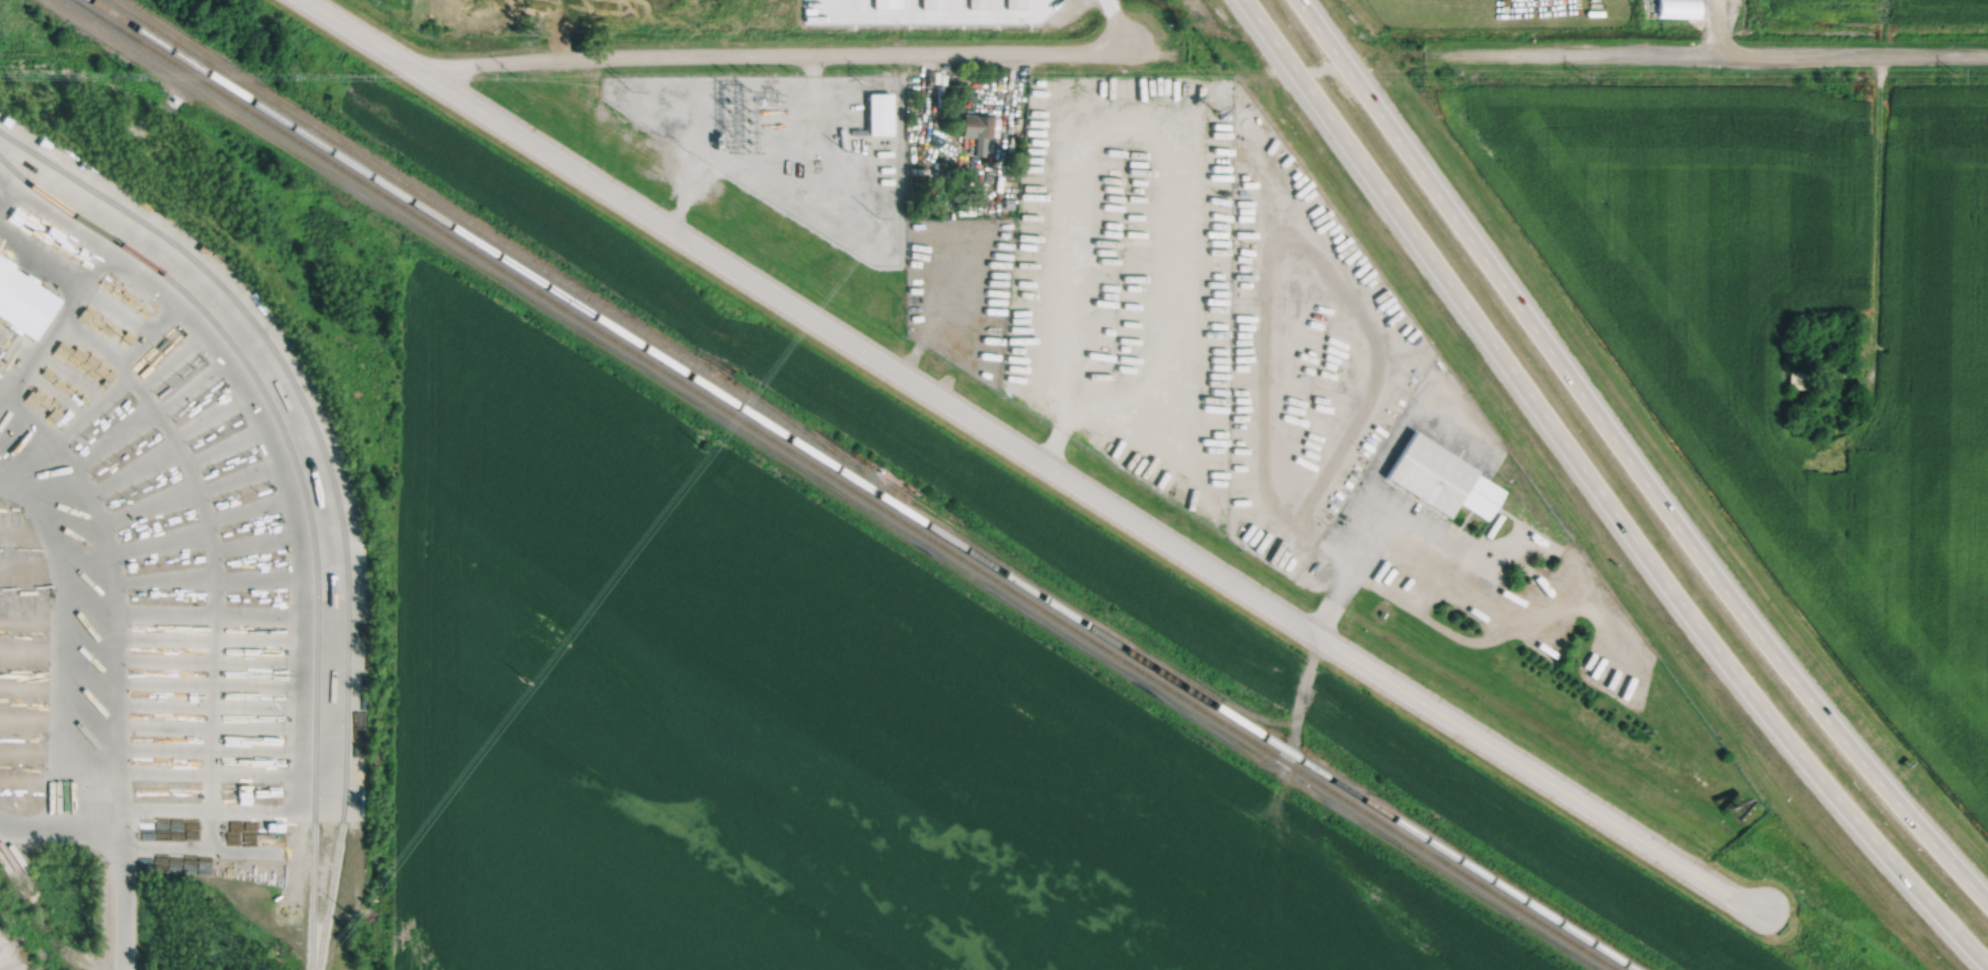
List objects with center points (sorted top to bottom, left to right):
building: (885, 3)
crop: (398, 4)
building: (933, 4)
building: (977, 4)
building: (1016, 4)
road: (1319, 29)
road: (1275, 40)
road: (1717, 53)
road: (774, 54)
road: (1322, 70)
power tower: (861, 75)
power tower: (1210, 77)
power tower: (1955, 77)
power tower: (1582, 78)
power tower: (631, 90)
building: (879, 111)
building: (978, 129)
power substation: (792, 146)
power tower: (846, 151)
building: (957, 194)
building: (1009, 202)
building: (820, 217)
railway: (495, 238)
railway: (480, 243)
building: (23, 299)
building: (1063, 367)
building: (1798, 376)
building: (1803, 394)
road: (2, 402)
railway: (305, 406)
railway: (281, 426)
road: (1035, 459)
building: (1440, 479)
road: (1371, 480)
railway: (844, 483)
road: (1652, 489)
road: (293, 511)
road: (1632, 534)
road: (1572, 581)
road: (112, 591)
road: (1431, 619)
road: (1613, 620)
road: (61, 634)
building: (171, 692)
railway: (1250, 728)
road: (61, 824)
road: (137, 845)
railway: (311, 894)
railway: (328, 894)

